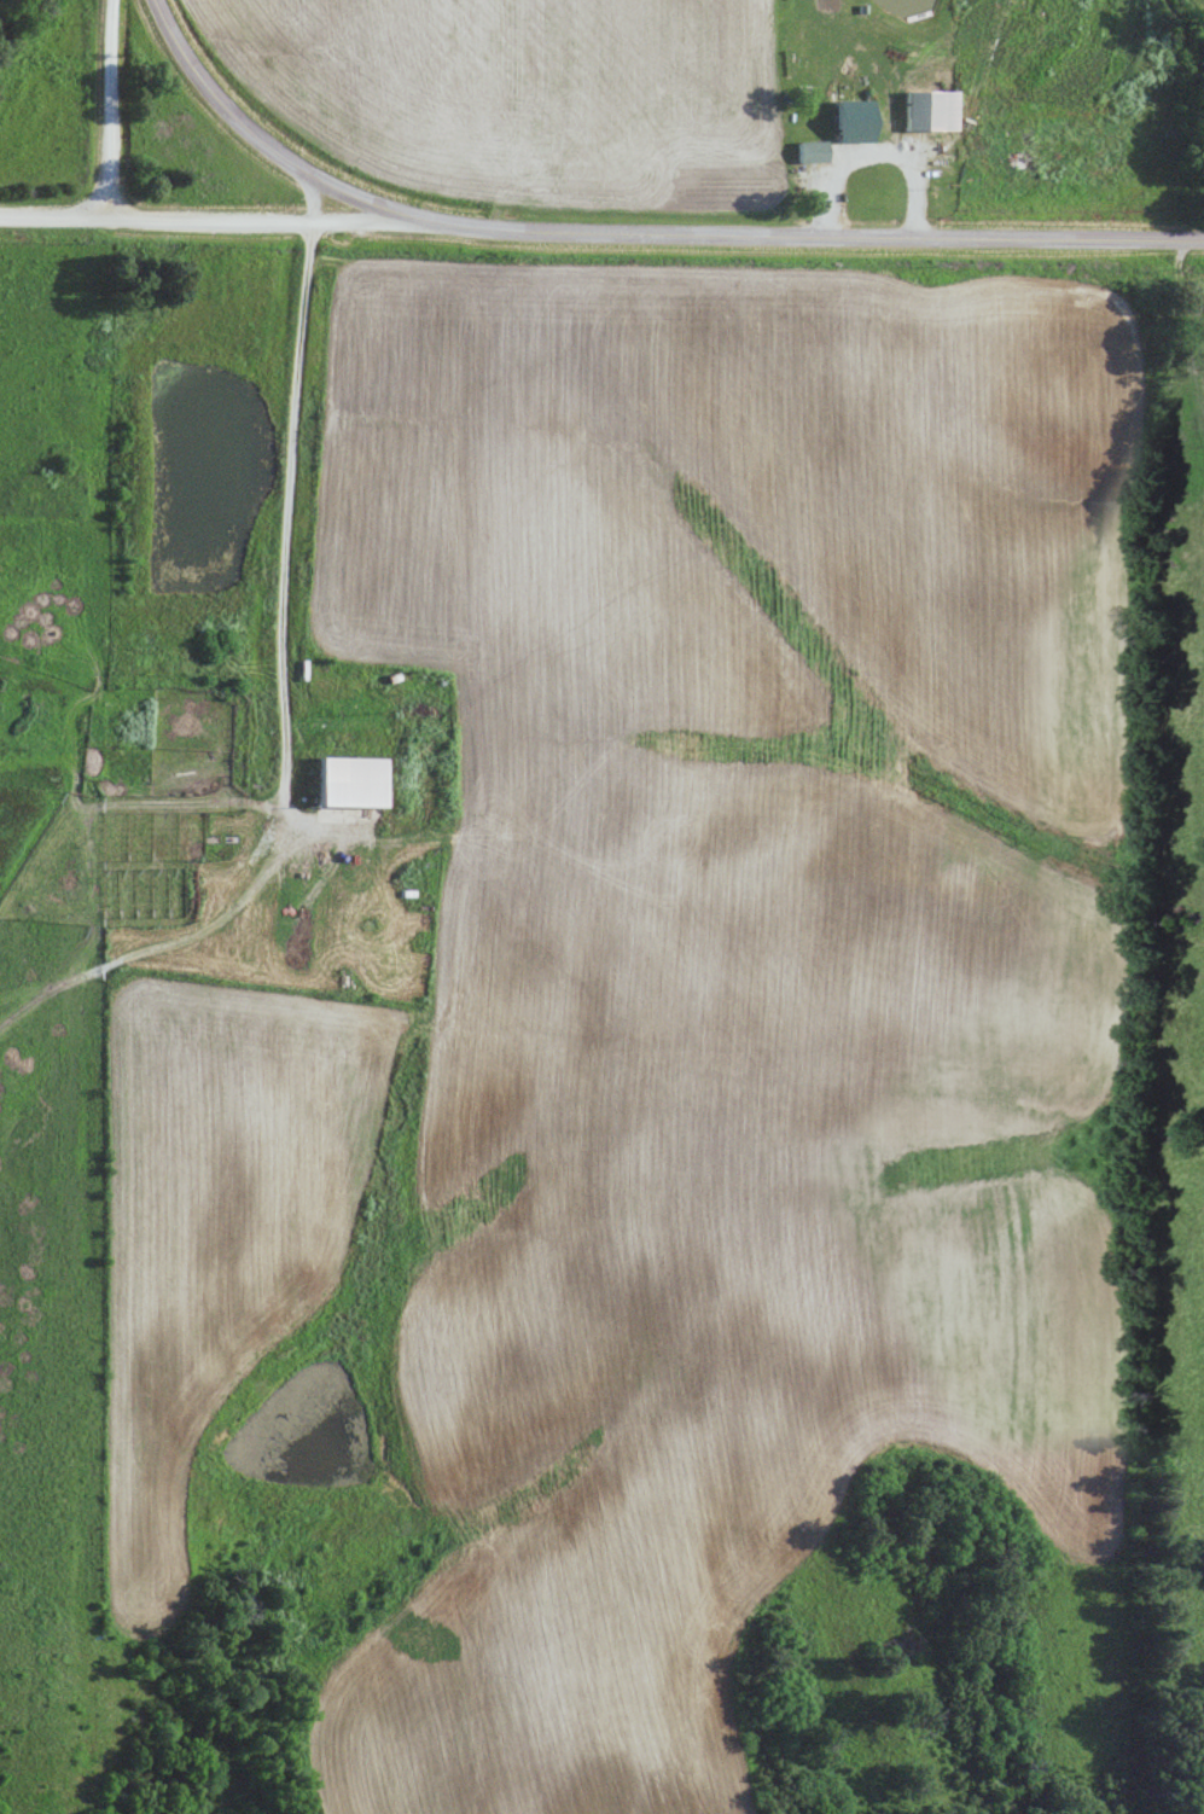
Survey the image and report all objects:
road: (101, 106)
building: (923, 110)
building: (805, 151)
building: (851, 175)
road: (51, 213)
road: (246, 214)
road: (647, 231)
road: (302, 705)
building: (344, 780)

